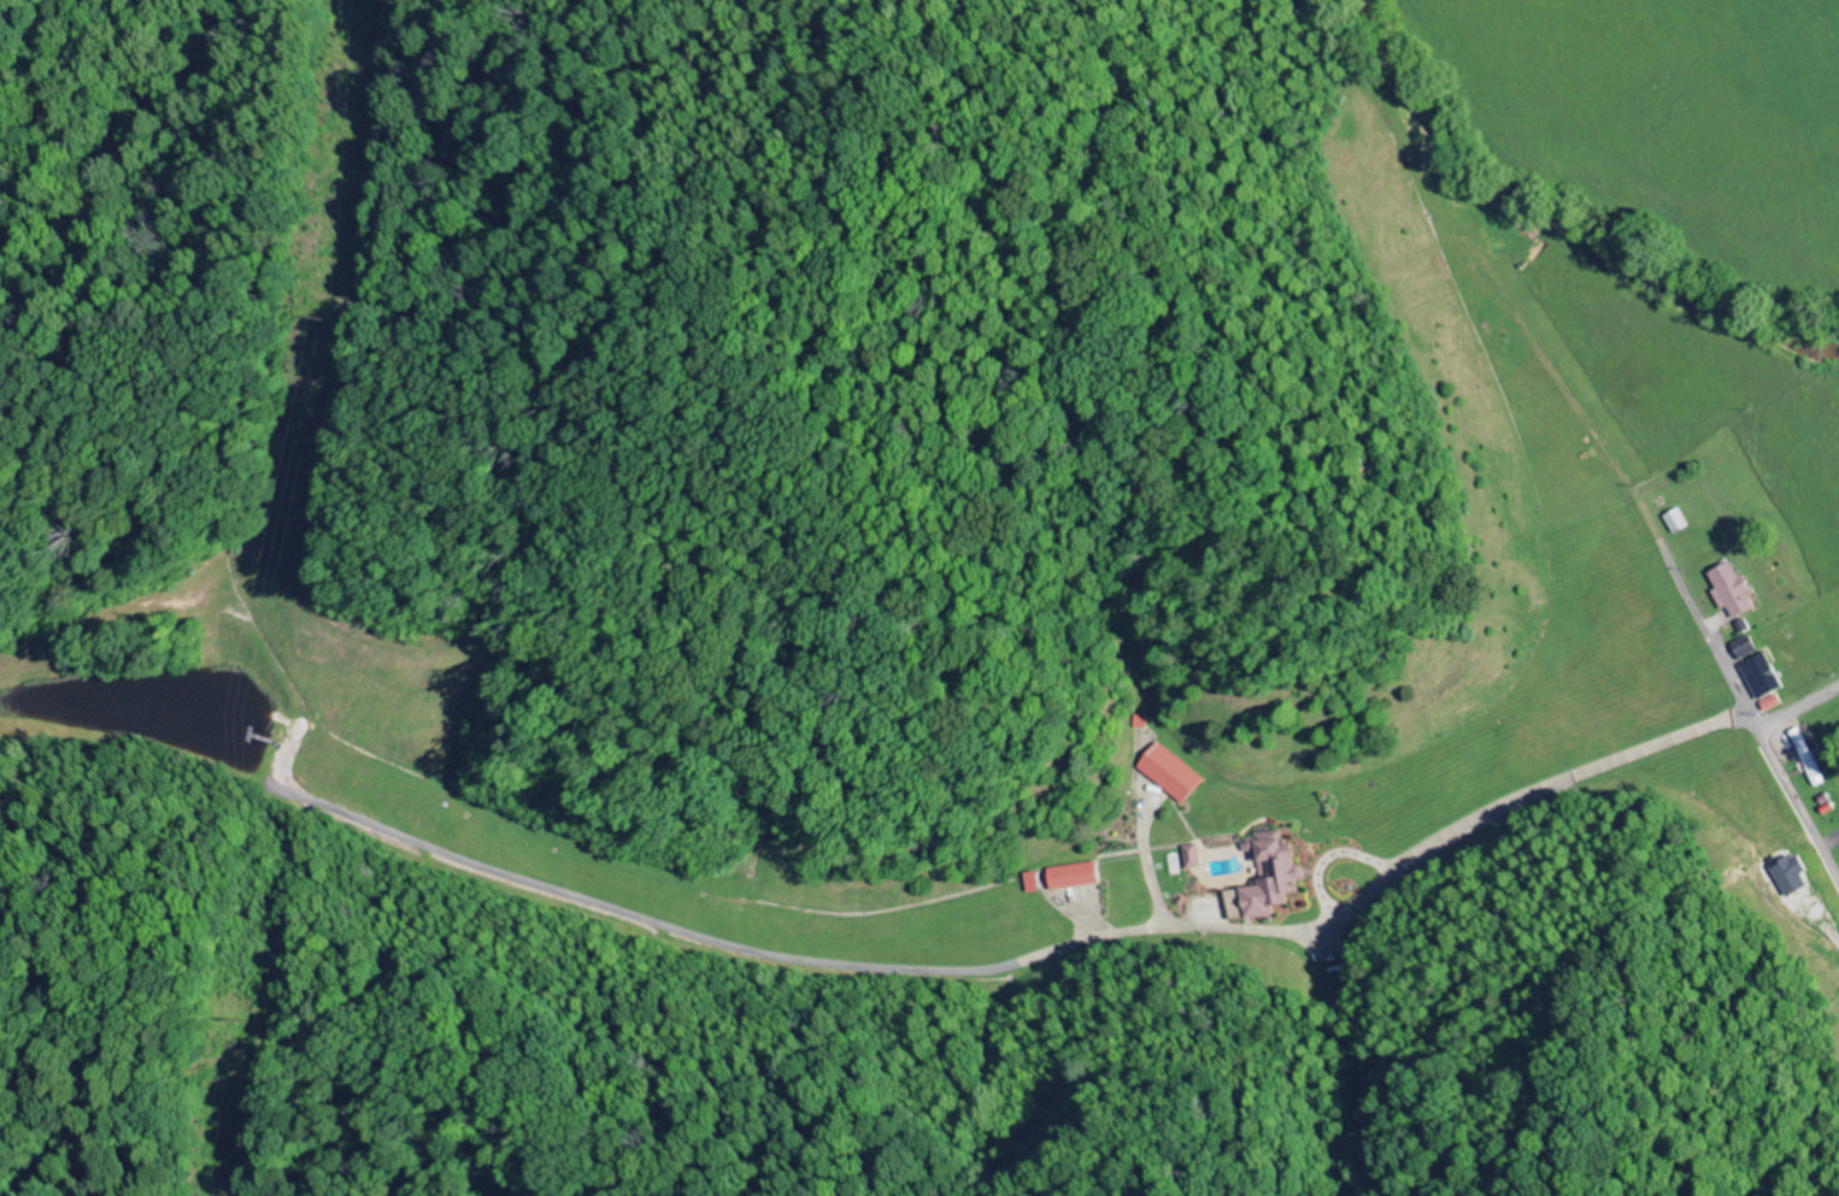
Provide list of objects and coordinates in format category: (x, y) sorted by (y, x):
river: (1553, 220)
power tower: (310, 318)
road: (1535, 344)
river: (1835, 353)
building: (1679, 522)
building: (1734, 591)
building: (1747, 648)
road: (1728, 673)
building: (1765, 682)
road: (1799, 707)
building: (1810, 758)
building: (1167, 772)
building: (1198, 858)
building: (1275, 870)
building: (1068, 874)
building: (1792, 876)
building: (1036, 883)
road: (1003, 967)
power tower: (219, 1021)

